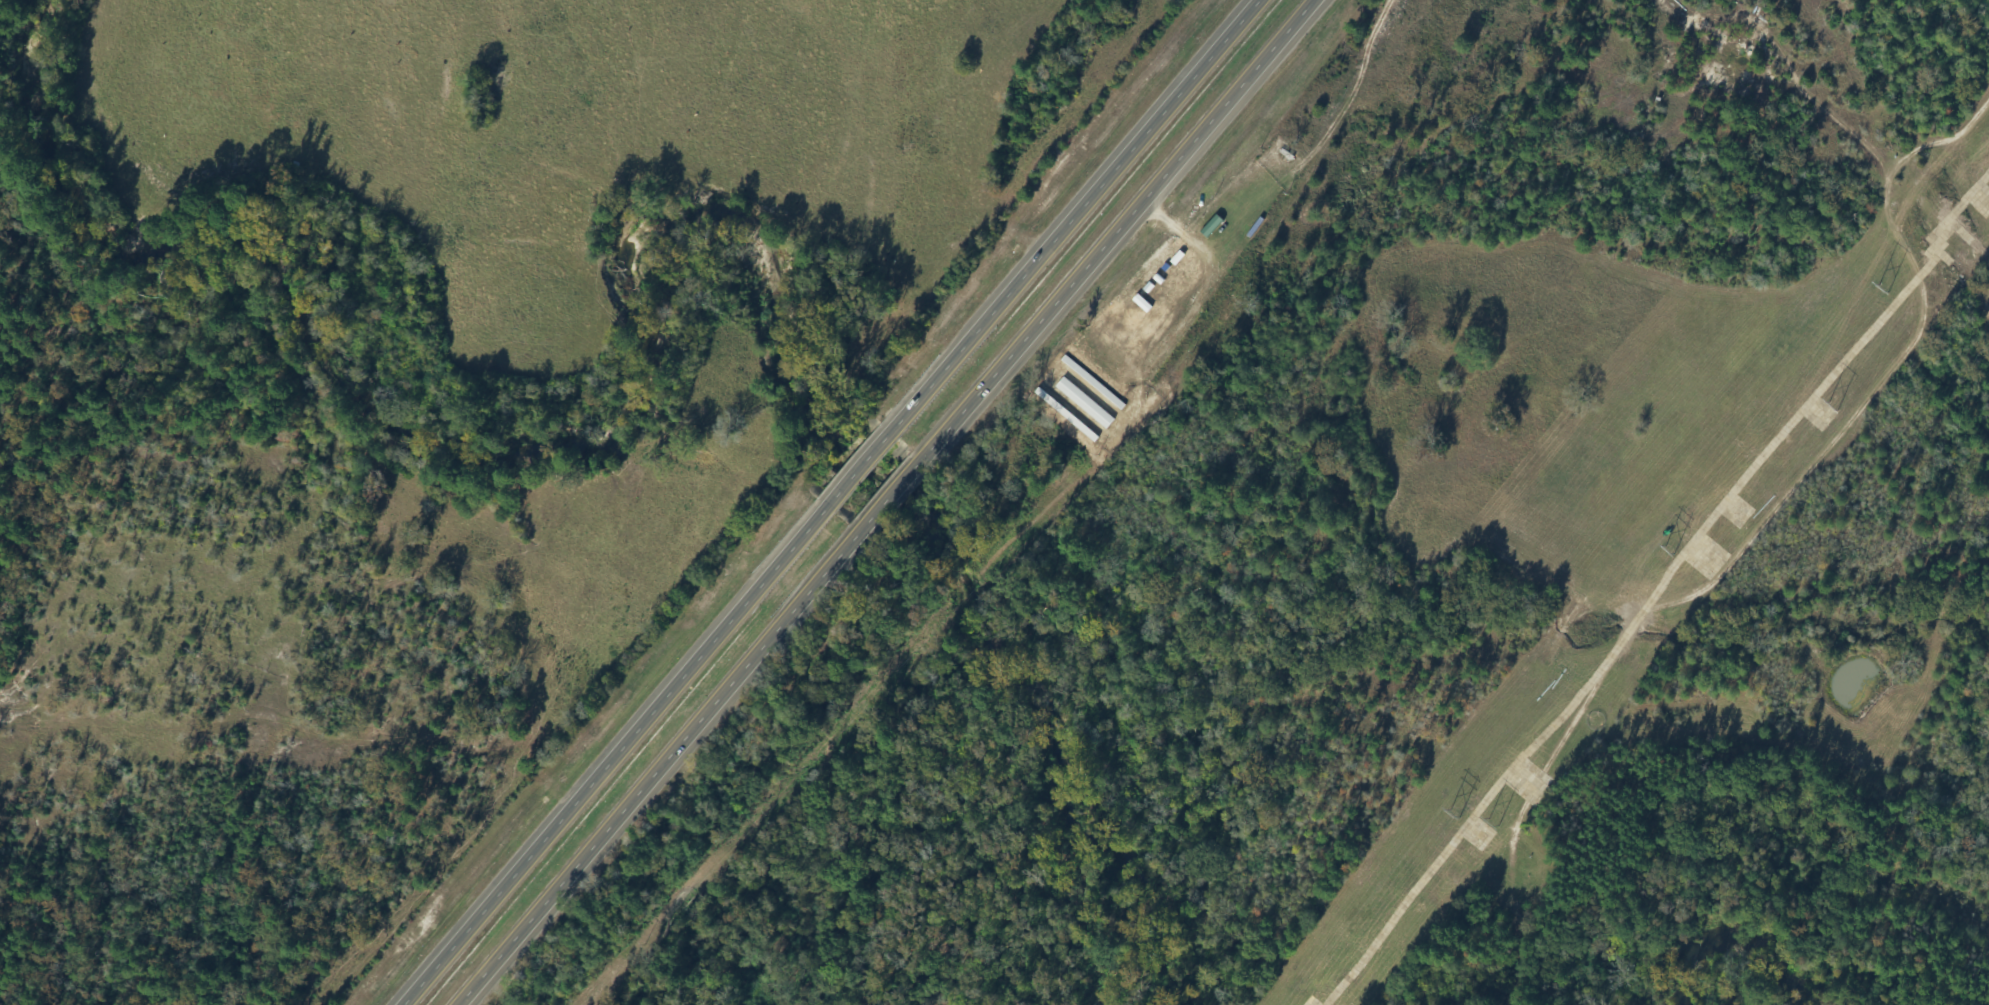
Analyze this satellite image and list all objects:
power tower: (1879, 291)
power tower: (1830, 407)
road: (877, 498)
road: (830, 502)
power tower: (1666, 548)
power tower: (1443, 808)
power tower: (1486, 823)
building: (431, 967)

